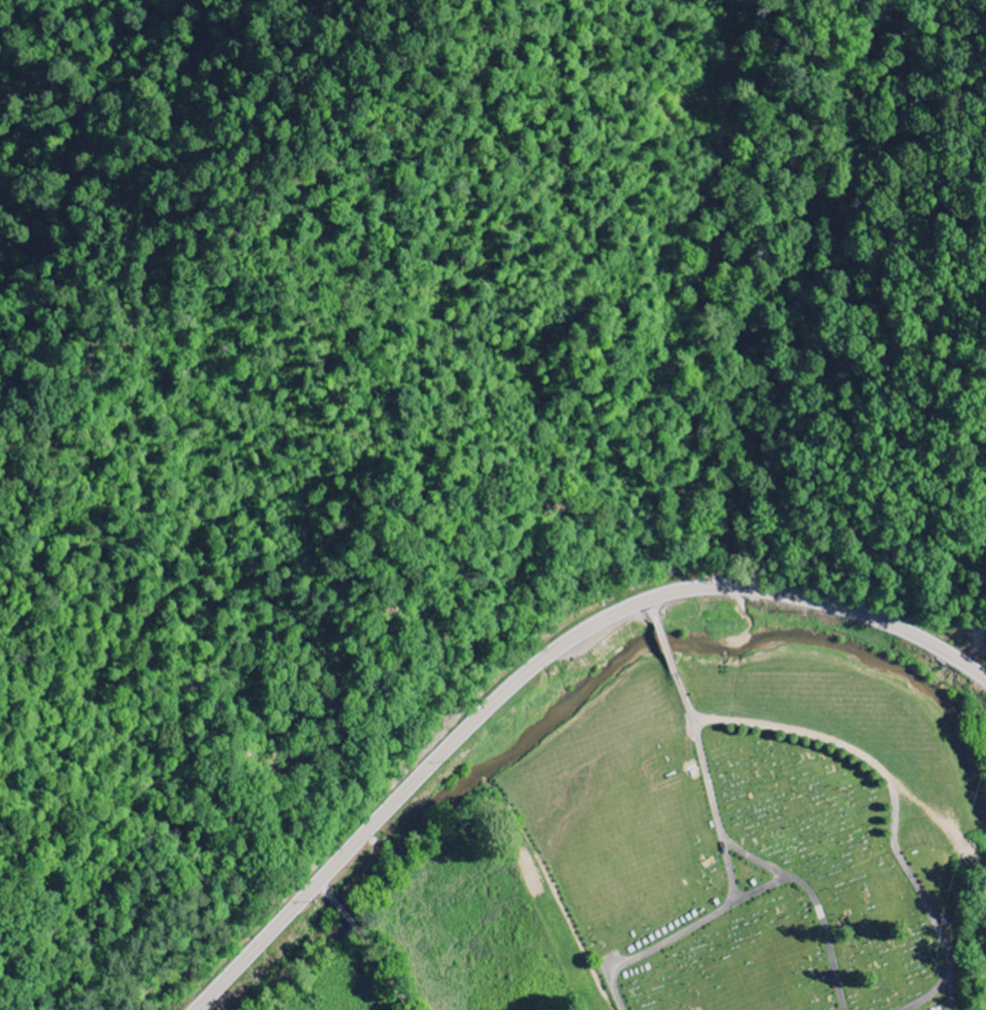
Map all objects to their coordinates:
road: (656, 609)
road: (664, 641)
road: (538, 663)
river: (590, 680)
road: (707, 779)
road: (894, 799)
park: (753, 823)
road: (762, 888)
road: (816, 903)
road: (651, 940)
road: (945, 1005)

